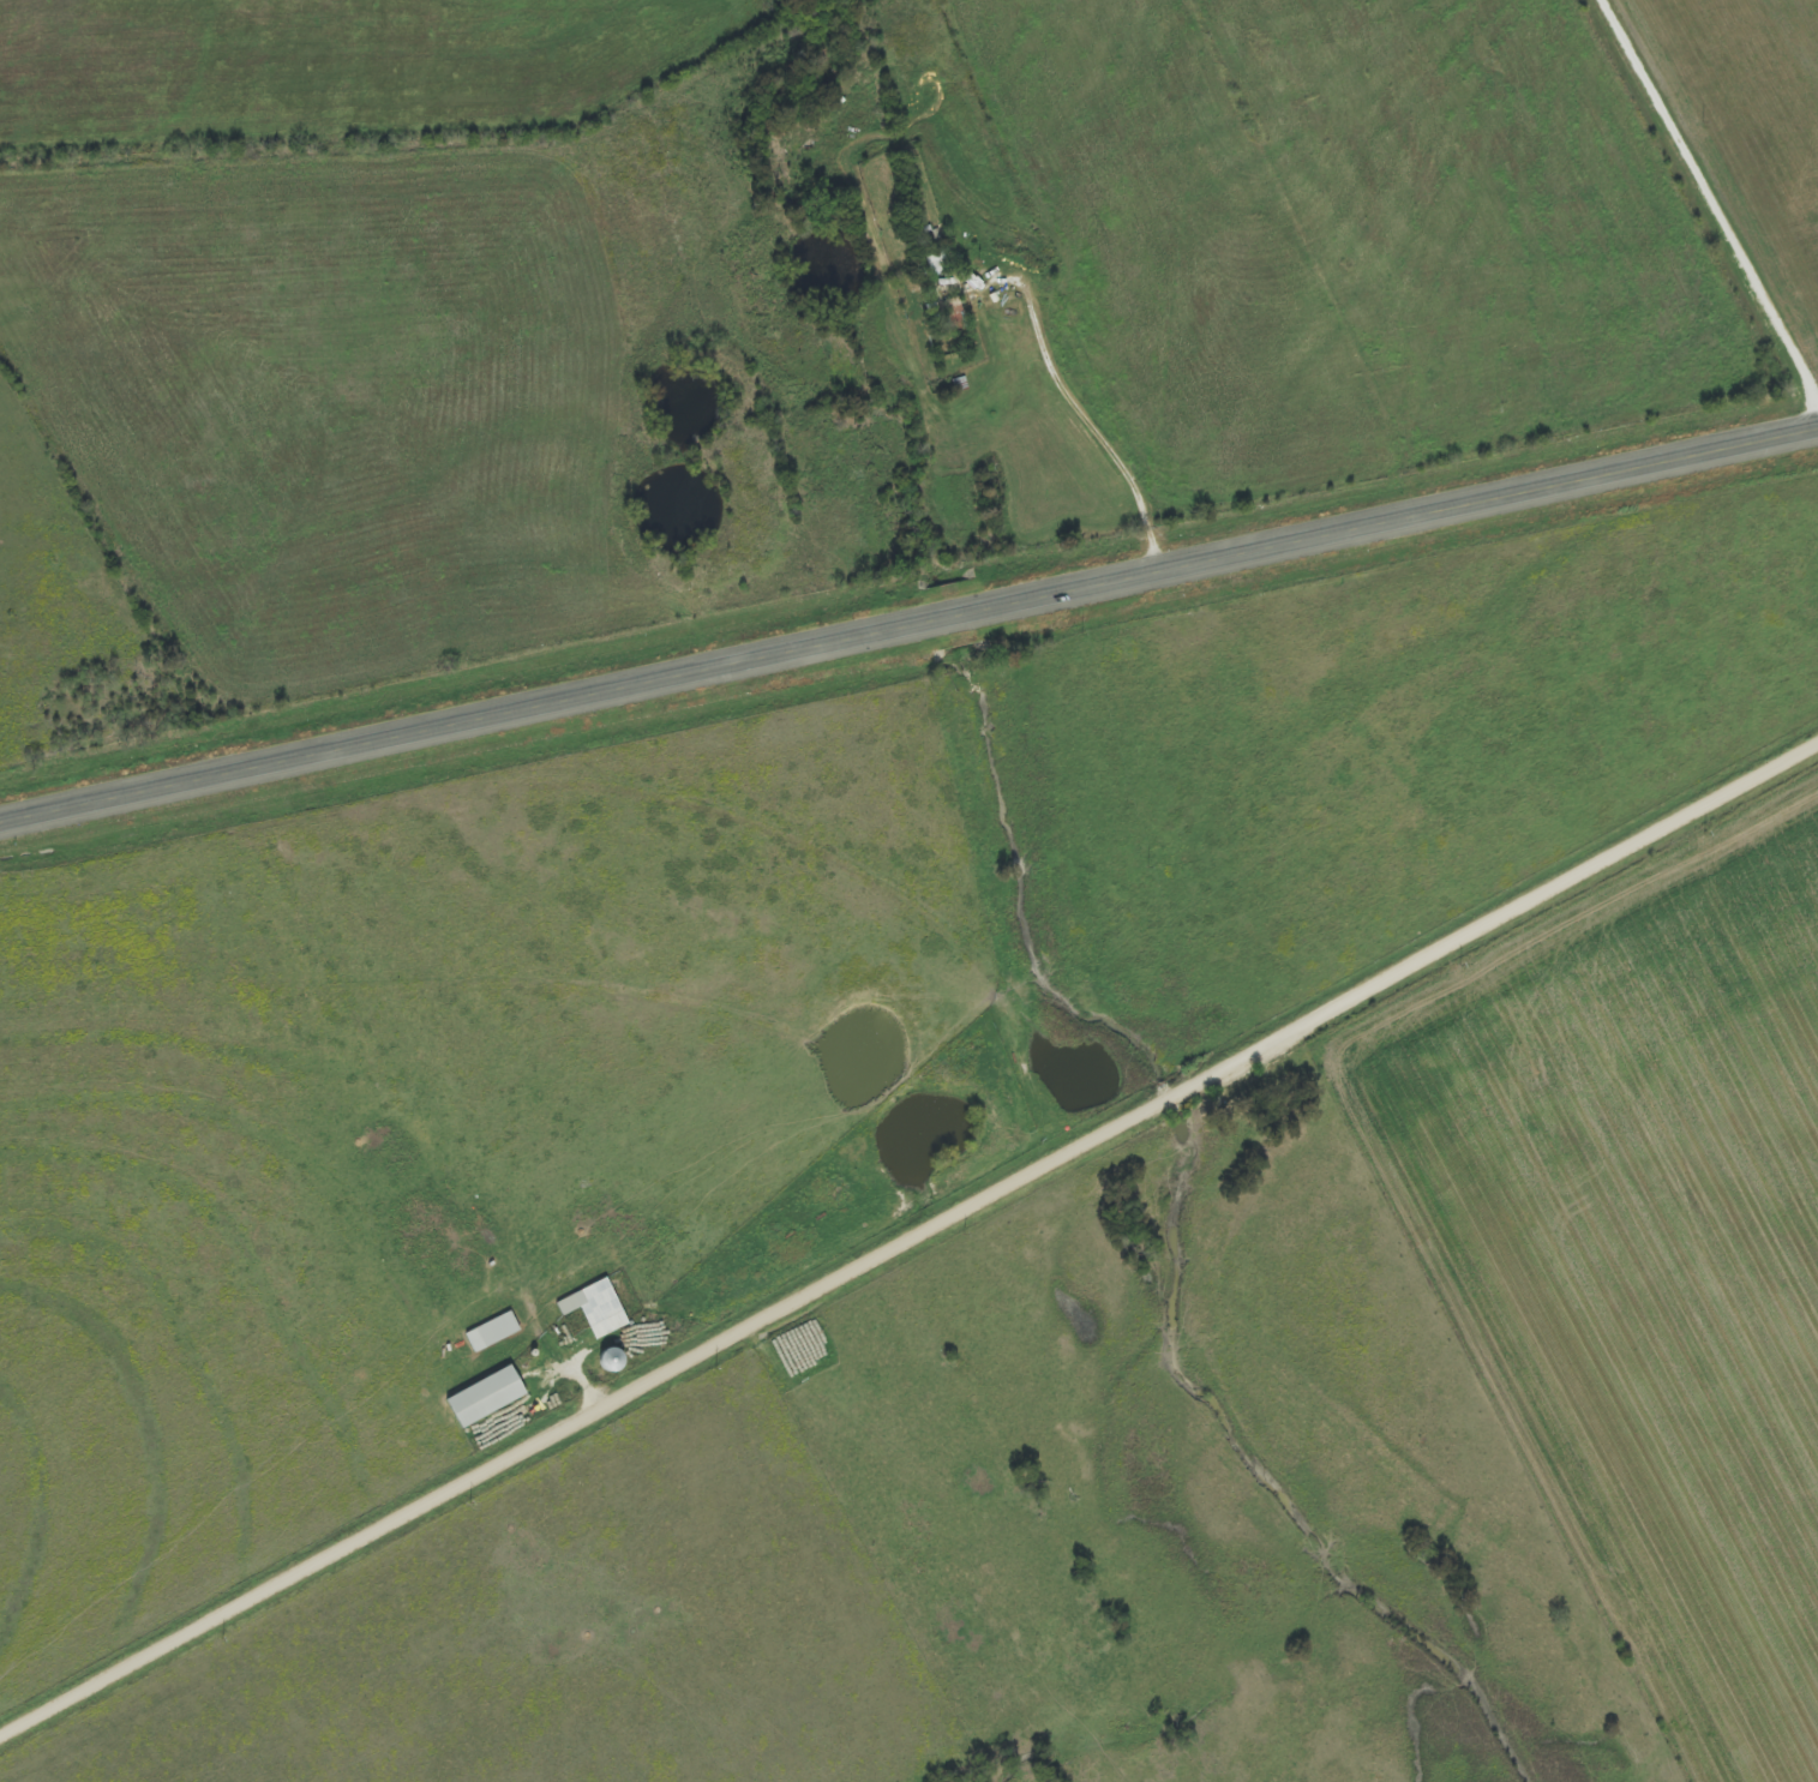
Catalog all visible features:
building: (958, 314)
road: (908, 625)
road: (908, 1242)
building: (600, 1308)
building: (496, 1332)
building: (491, 1397)

